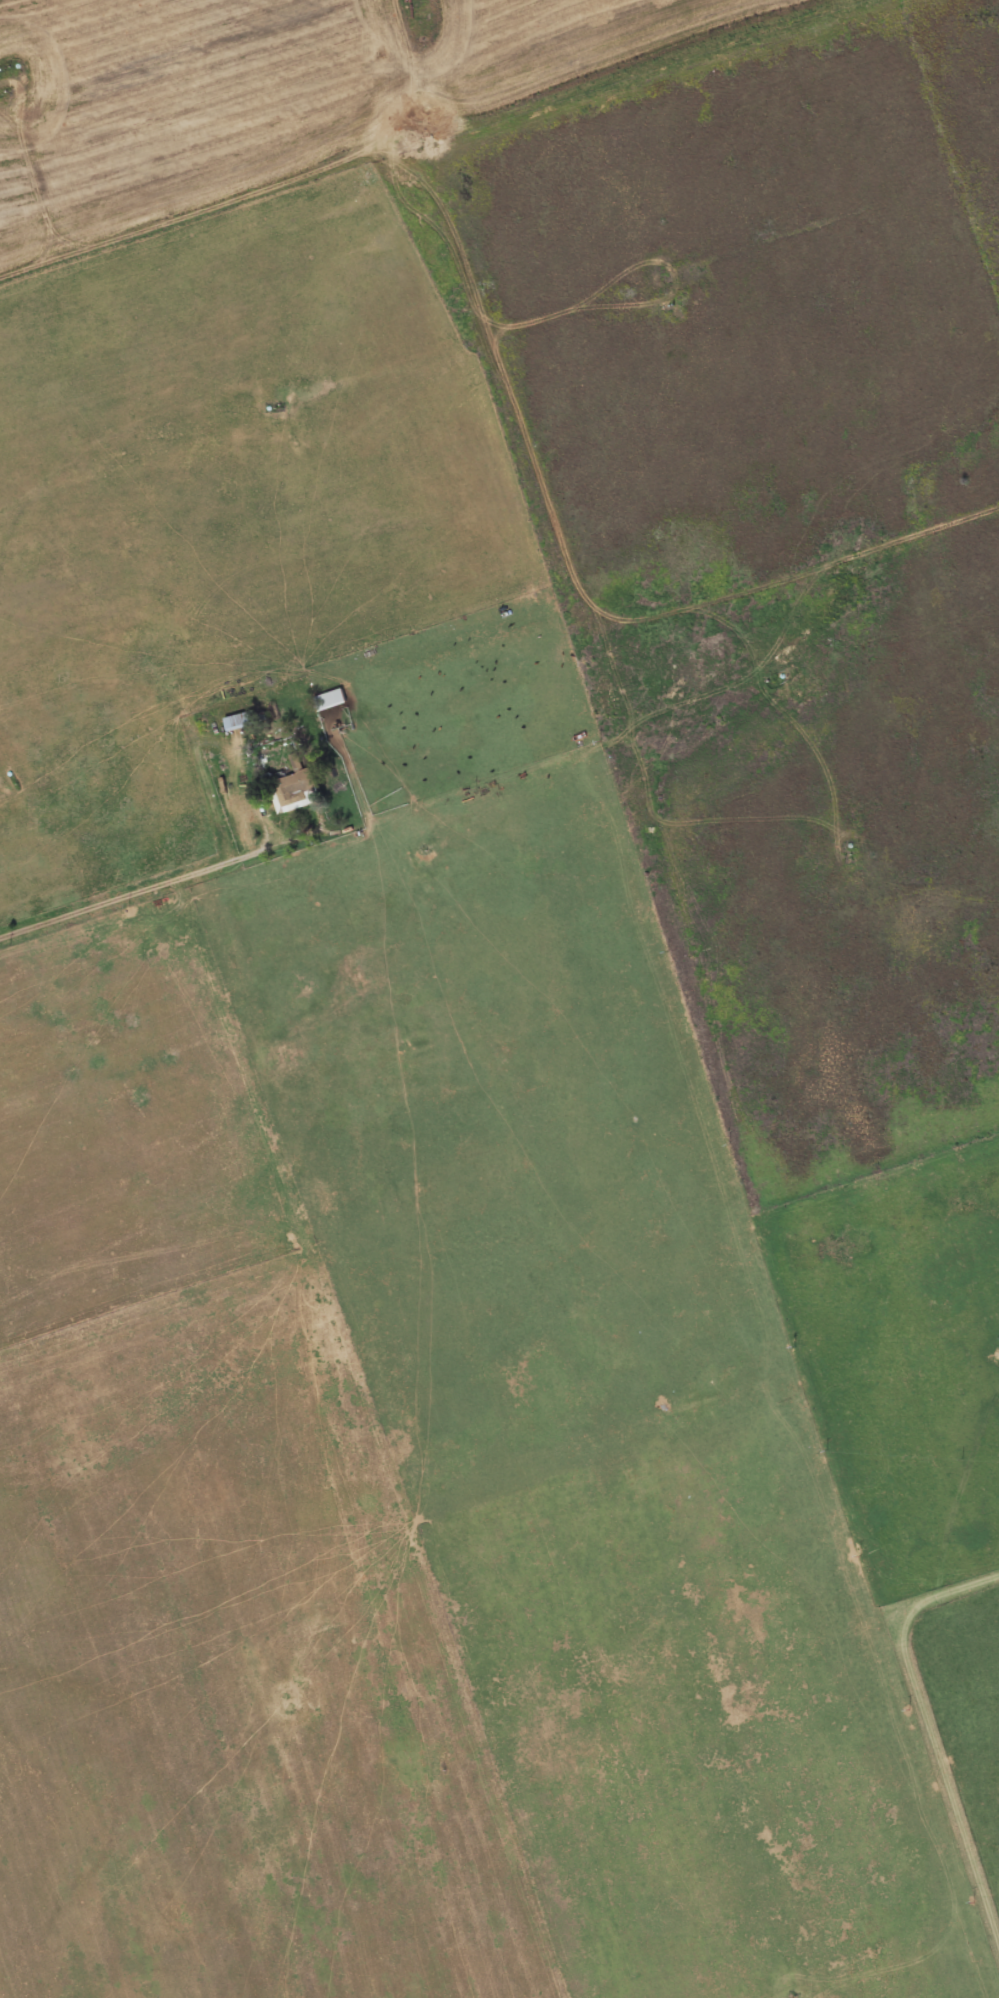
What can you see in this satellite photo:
building: (333, 701)
building: (299, 785)
road: (519, 785)
road: (945, 1720)

